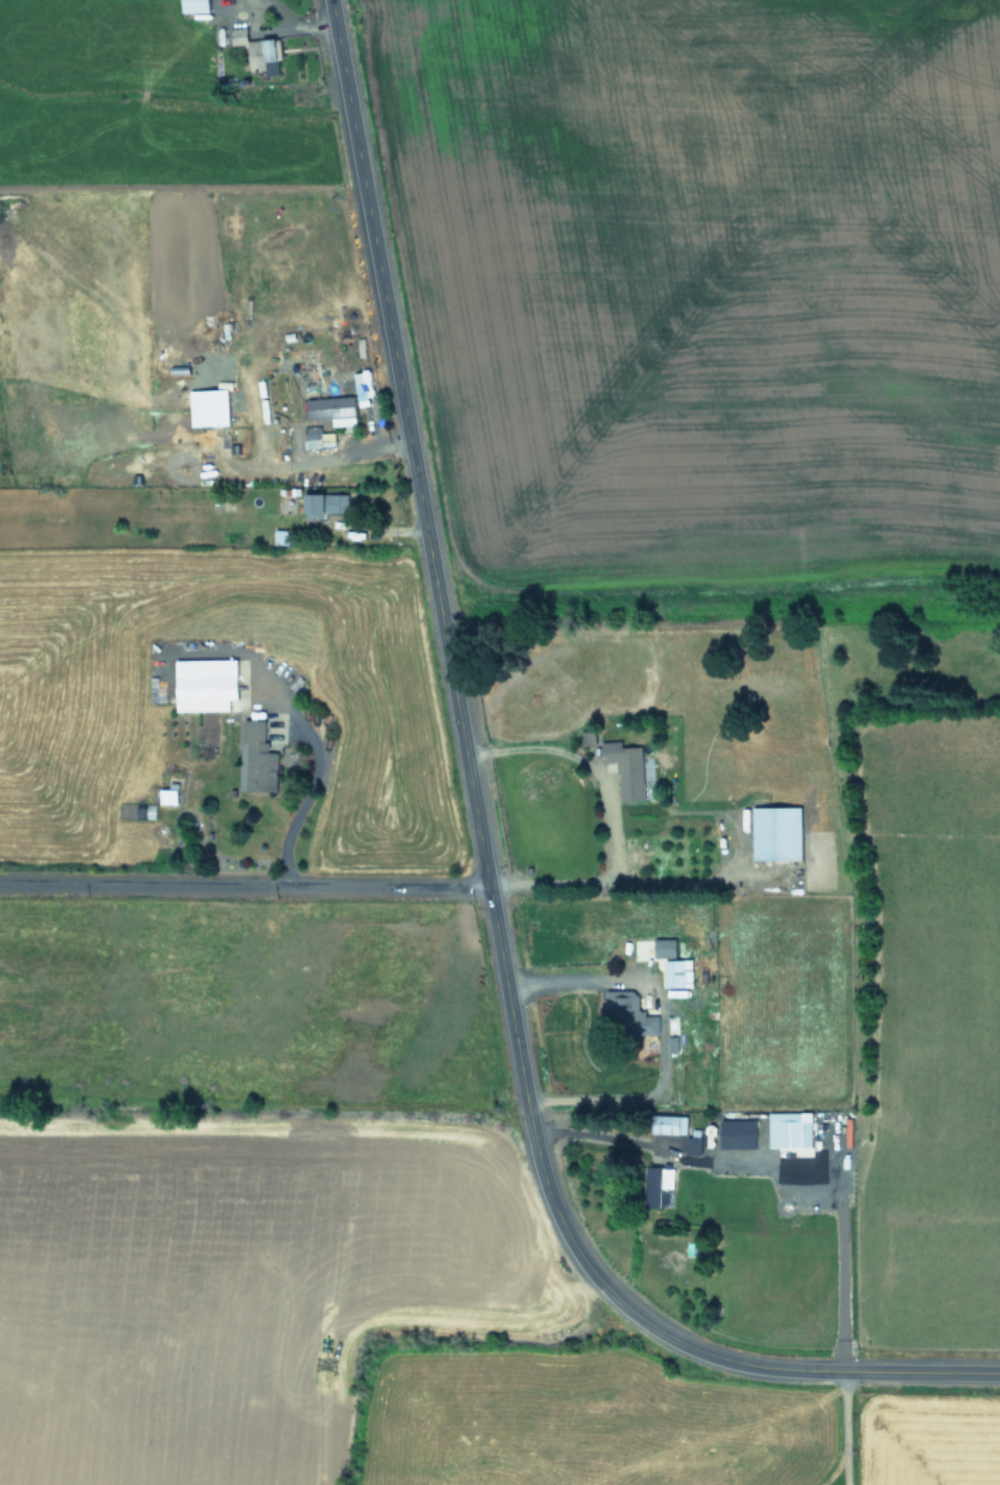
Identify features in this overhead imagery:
building: (201, 6)
road: (281, 28)
building: (242, 36)
building: (269, 50)
building: (360, 388)
building: (205, 406)
building: (331, 409)
building: (315, 437)
building: (320, 503)
building: (201, 684)
crop: (500, 742)
building: (256, 757)
building: (624, 768)
road: (313, 774)
building: (164, 795)
building: (147, 810)
road: (605, 813)
building: (773, 832)
road: (469, 862)
road: (237, 887)
building: (661, 947)
building: (675, 972)
road: (569, 986)
building: (623, 1012)
building: (665, 1124)
building: (787, 1129)
building: (734, 1133)
road: (768, 1169)
building: (654, 1184)
road: (844, 1428)

